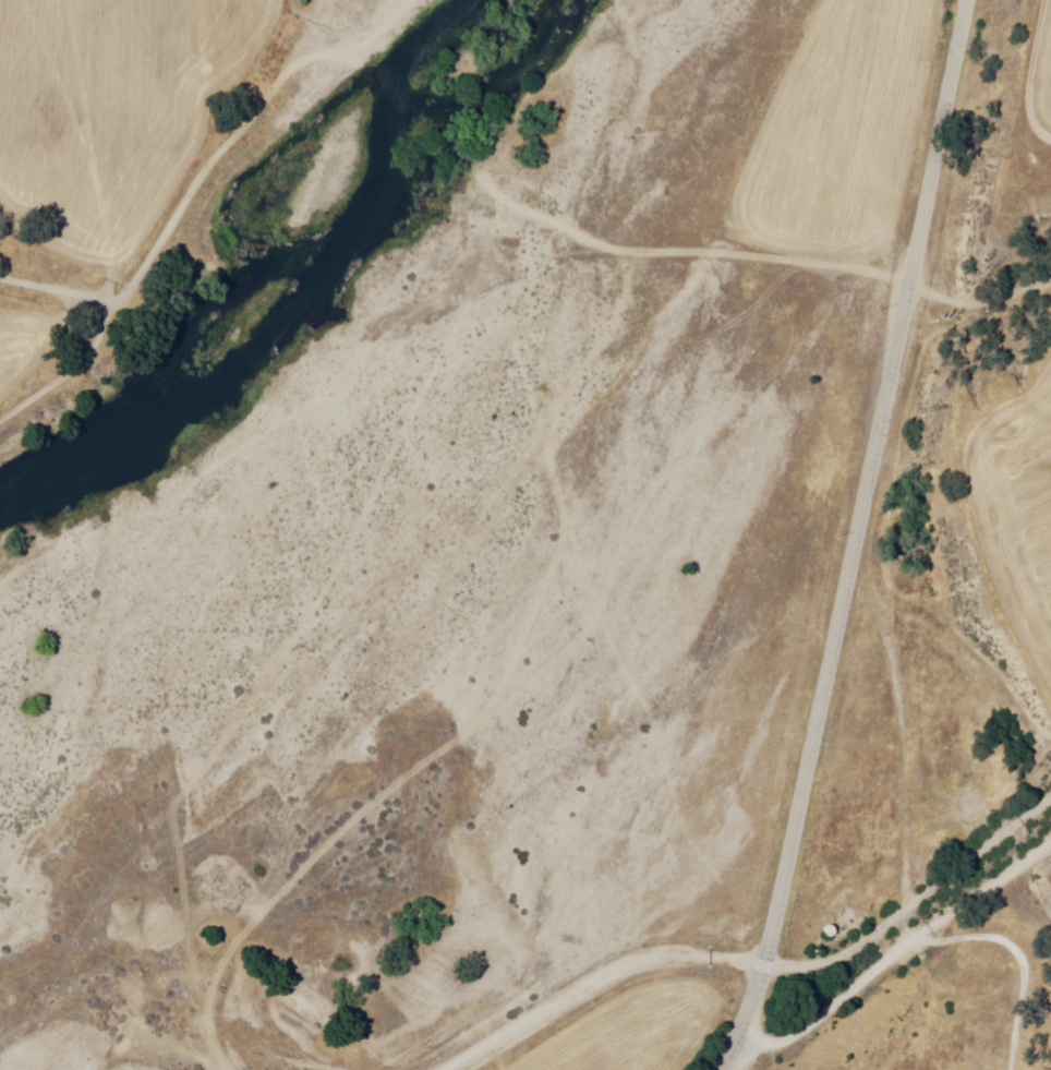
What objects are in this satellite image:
river: (559, 7)
river: (536, 34)
crop: (1027, 91)
river: (290, 318)
road: (851, 538)
road: (914, 902)
storage tank: (830, 928)
road: (895, 954)
road: (595, 983)

